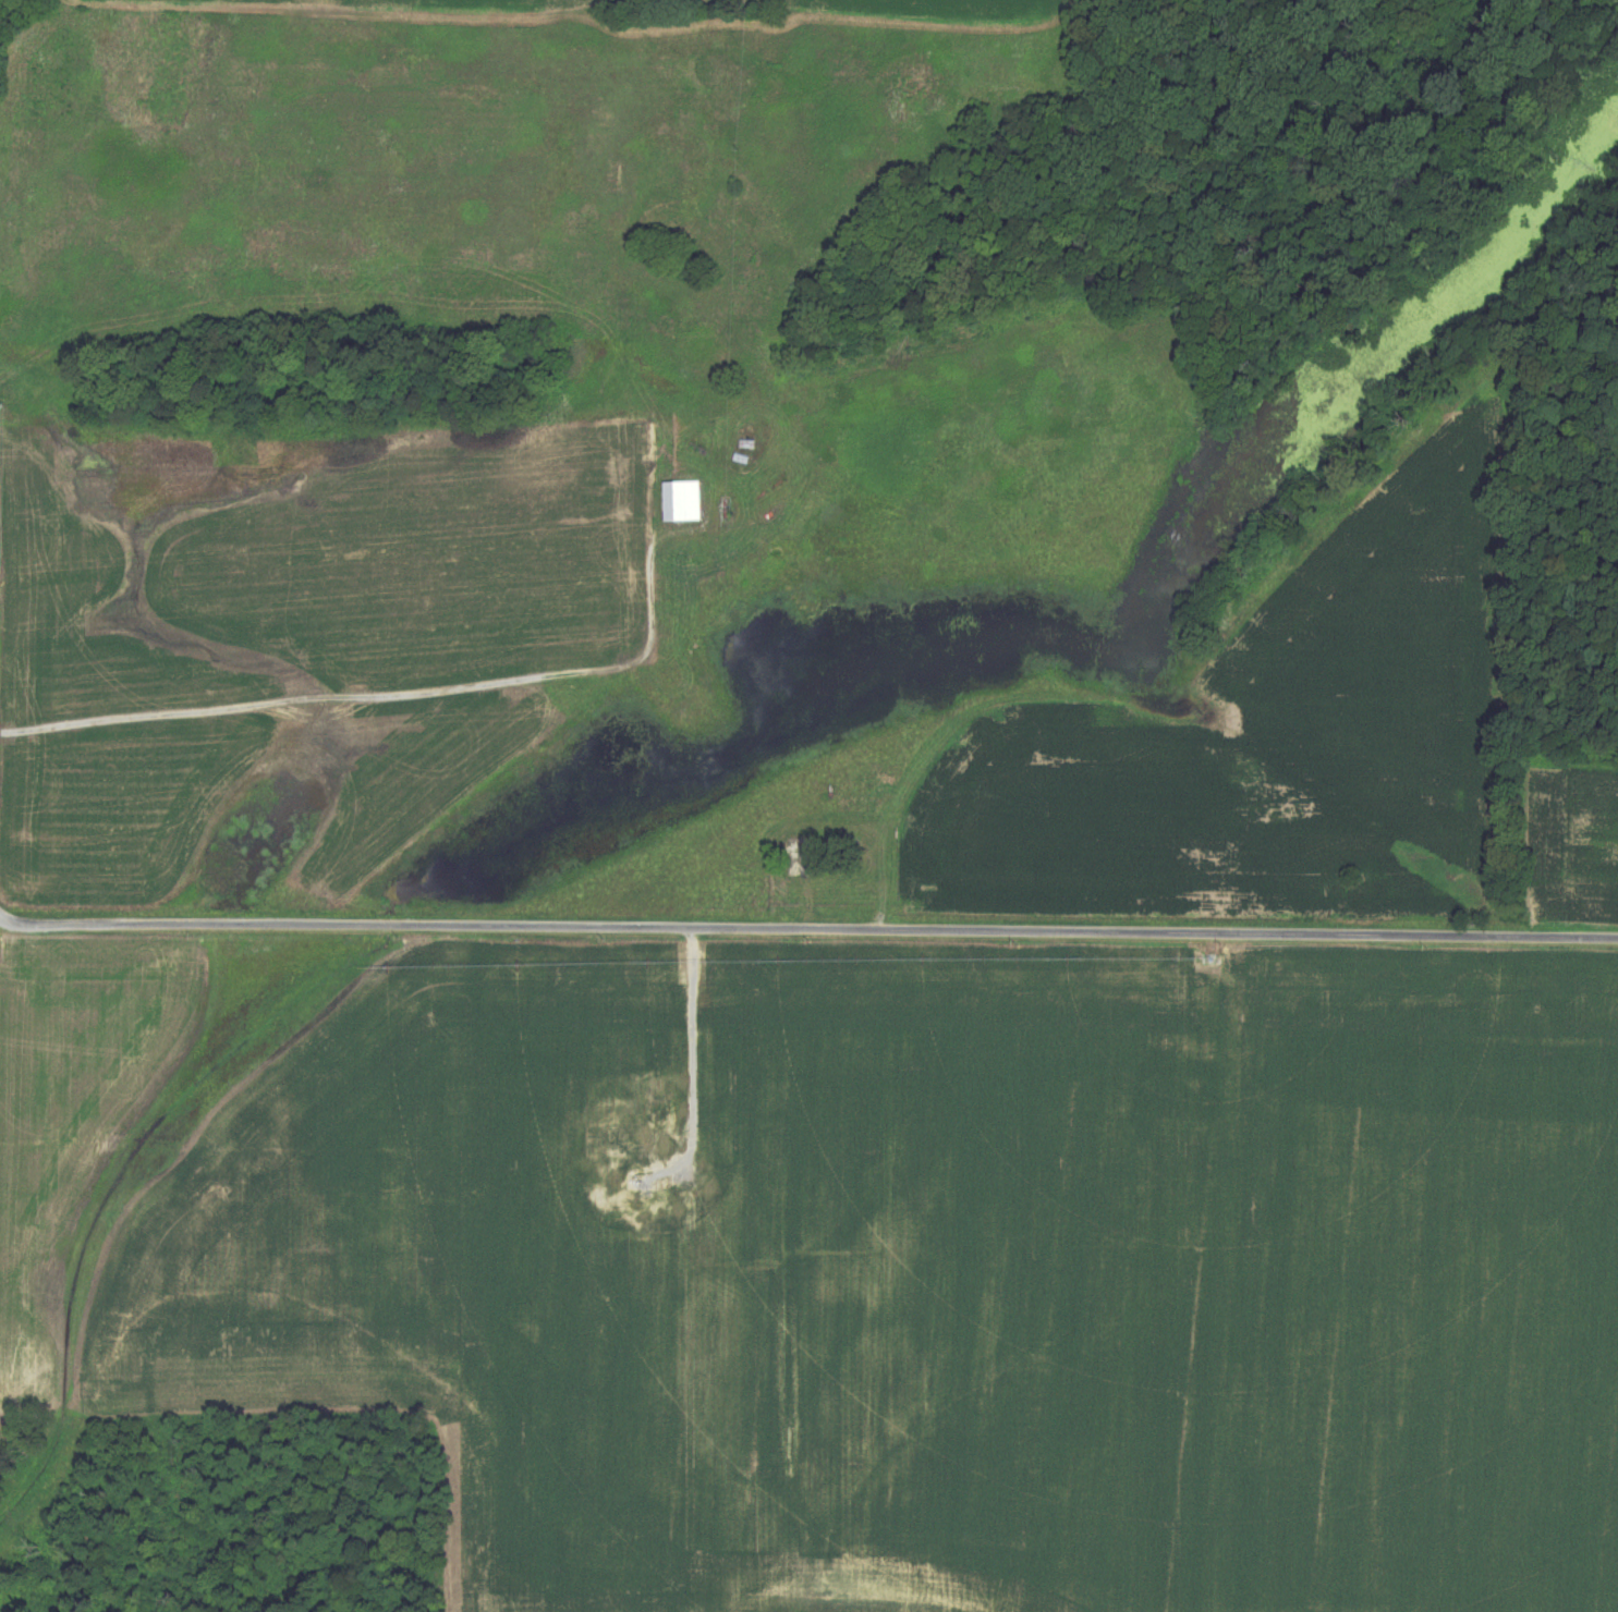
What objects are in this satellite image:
building: (678, 501)
road: (435, 692)
road: (807, 935)
road: (694, 1046)

